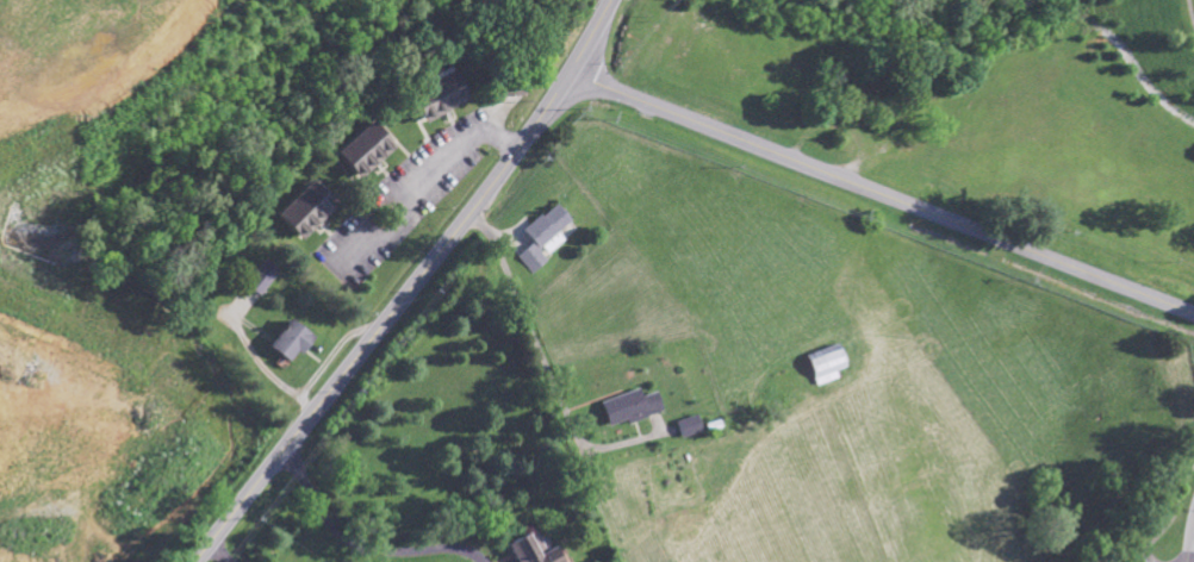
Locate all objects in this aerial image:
building: (429, 99)
building: (359, 151)
road: (882, 194)
building: (299, 211)
building: (541, 237)
road: (411, 288)
building: (285, 342)
building: (820, 364)
building: (627, 407)
airport: (1150, 516)
building: (527, 549)
road: (217, 552)

